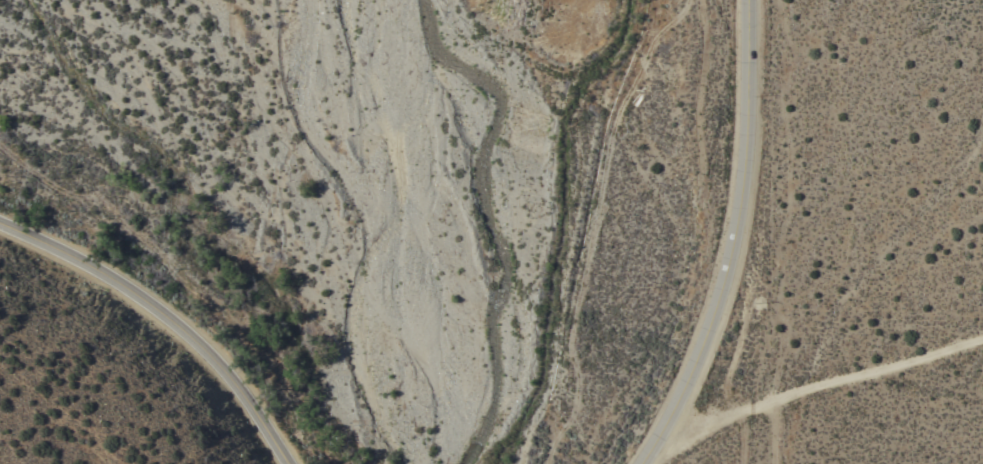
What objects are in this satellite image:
road: (734, 242)
road: (168, 325)

